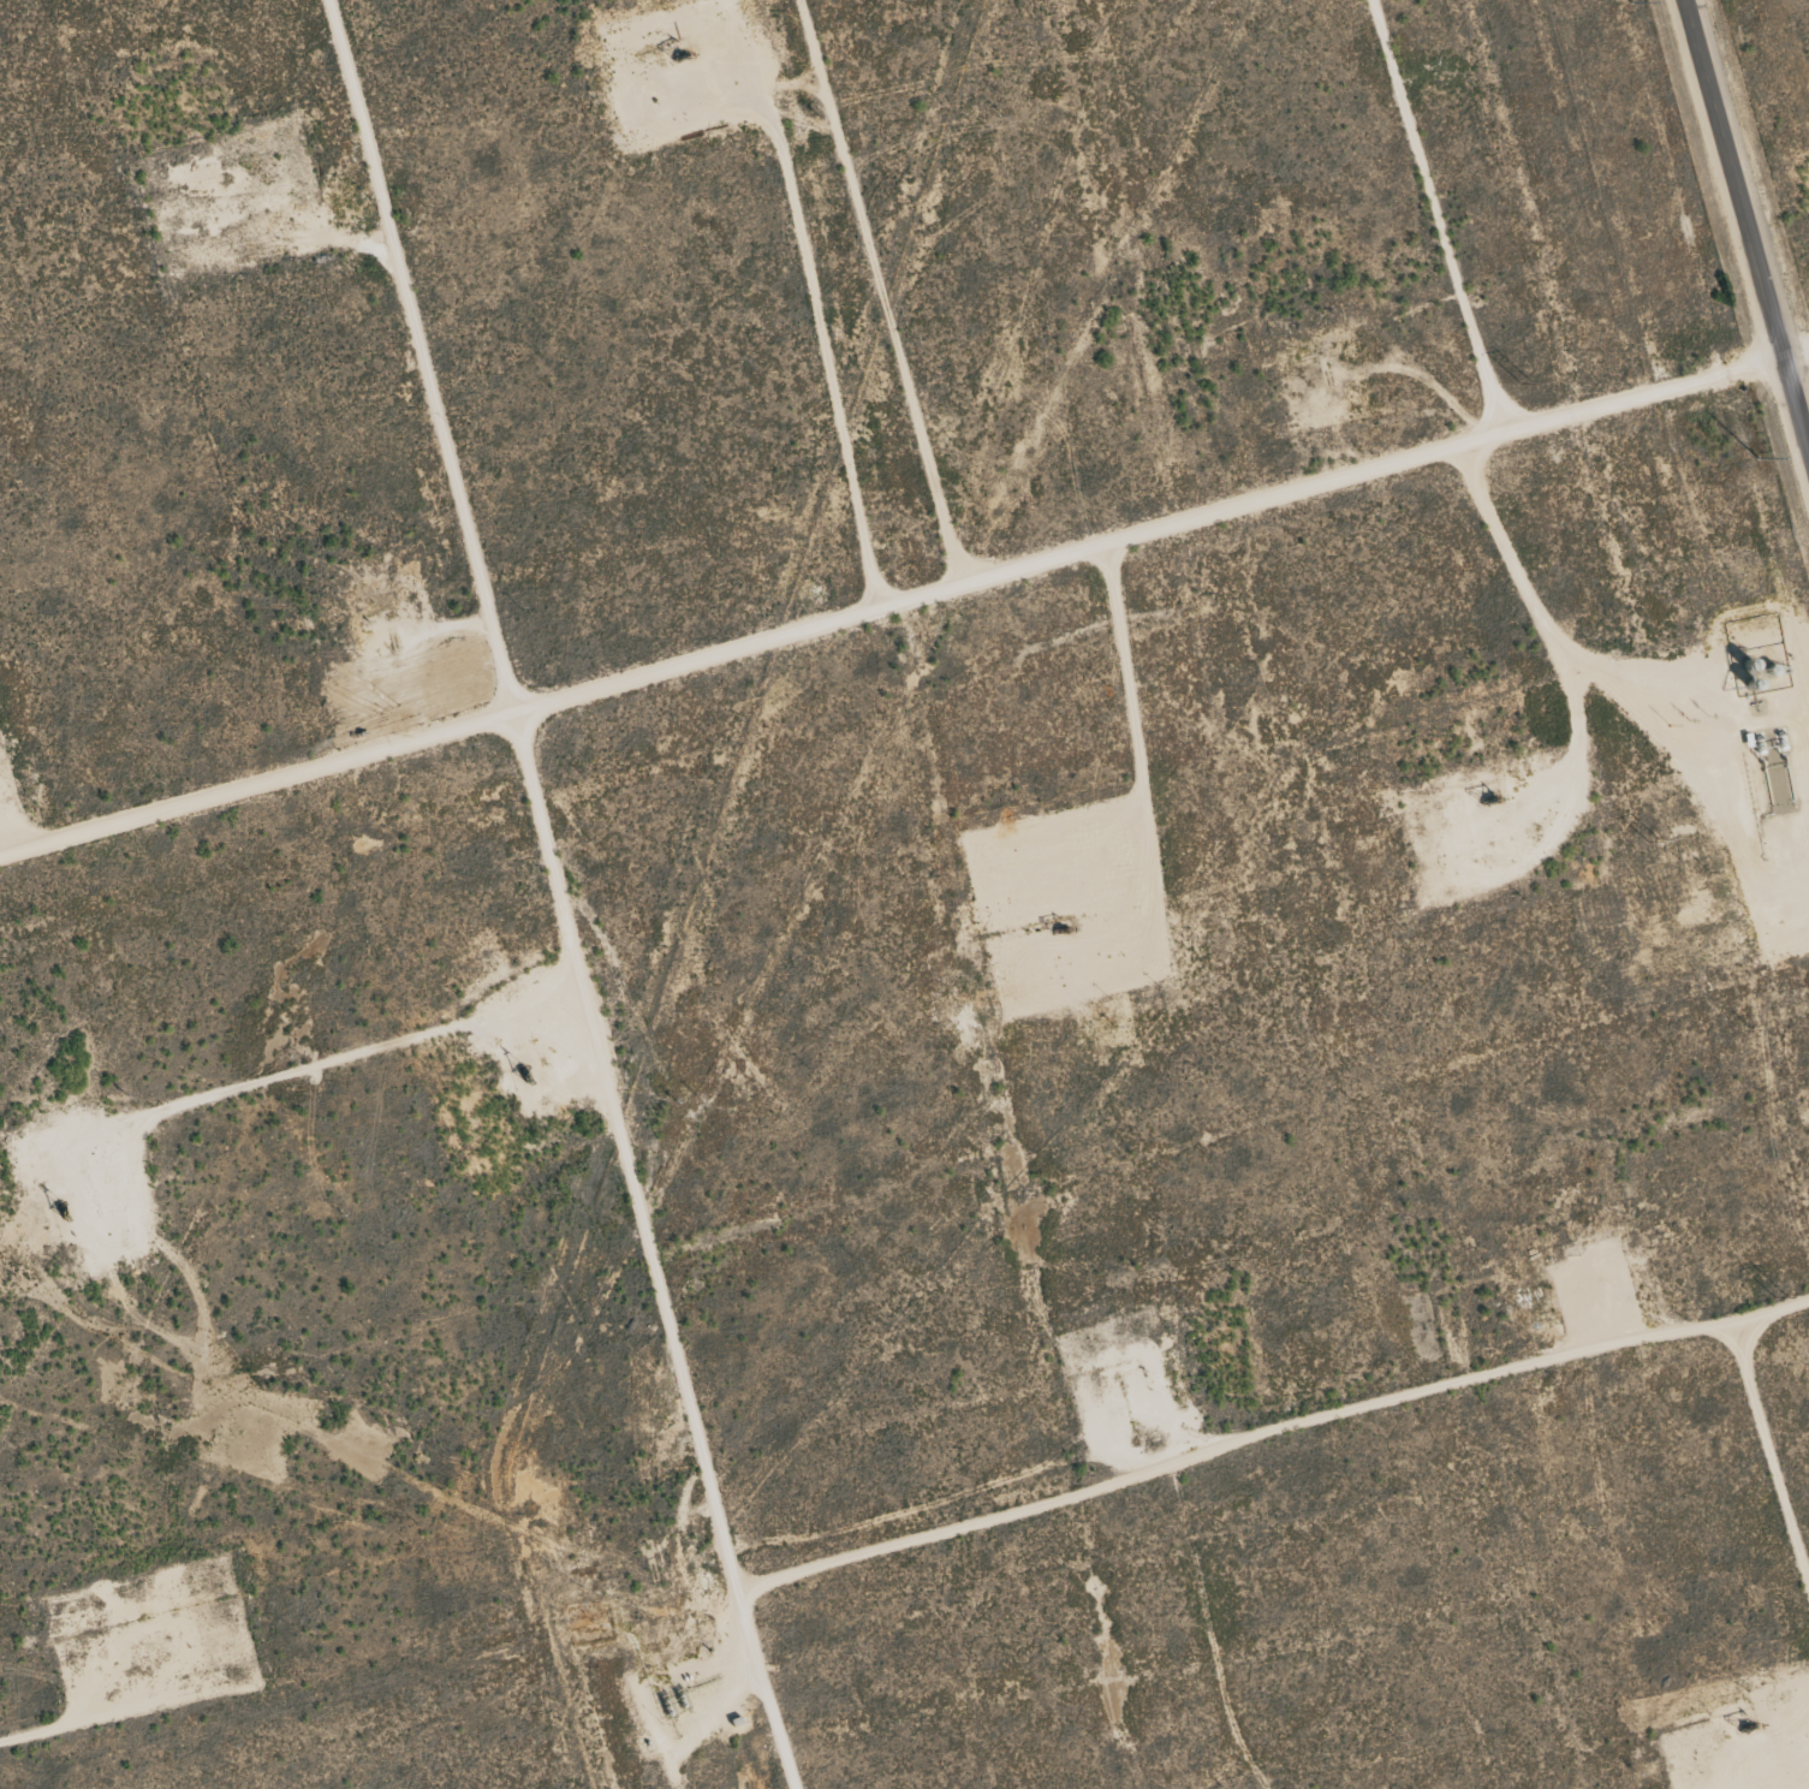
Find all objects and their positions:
road: (1745, 228)
power tower: (1525, 381)
road: (905, 600)
power tower: (1653, 838)
road: (565, 893)
power tower: (1778, 1294)
road: (1509, 1362)

